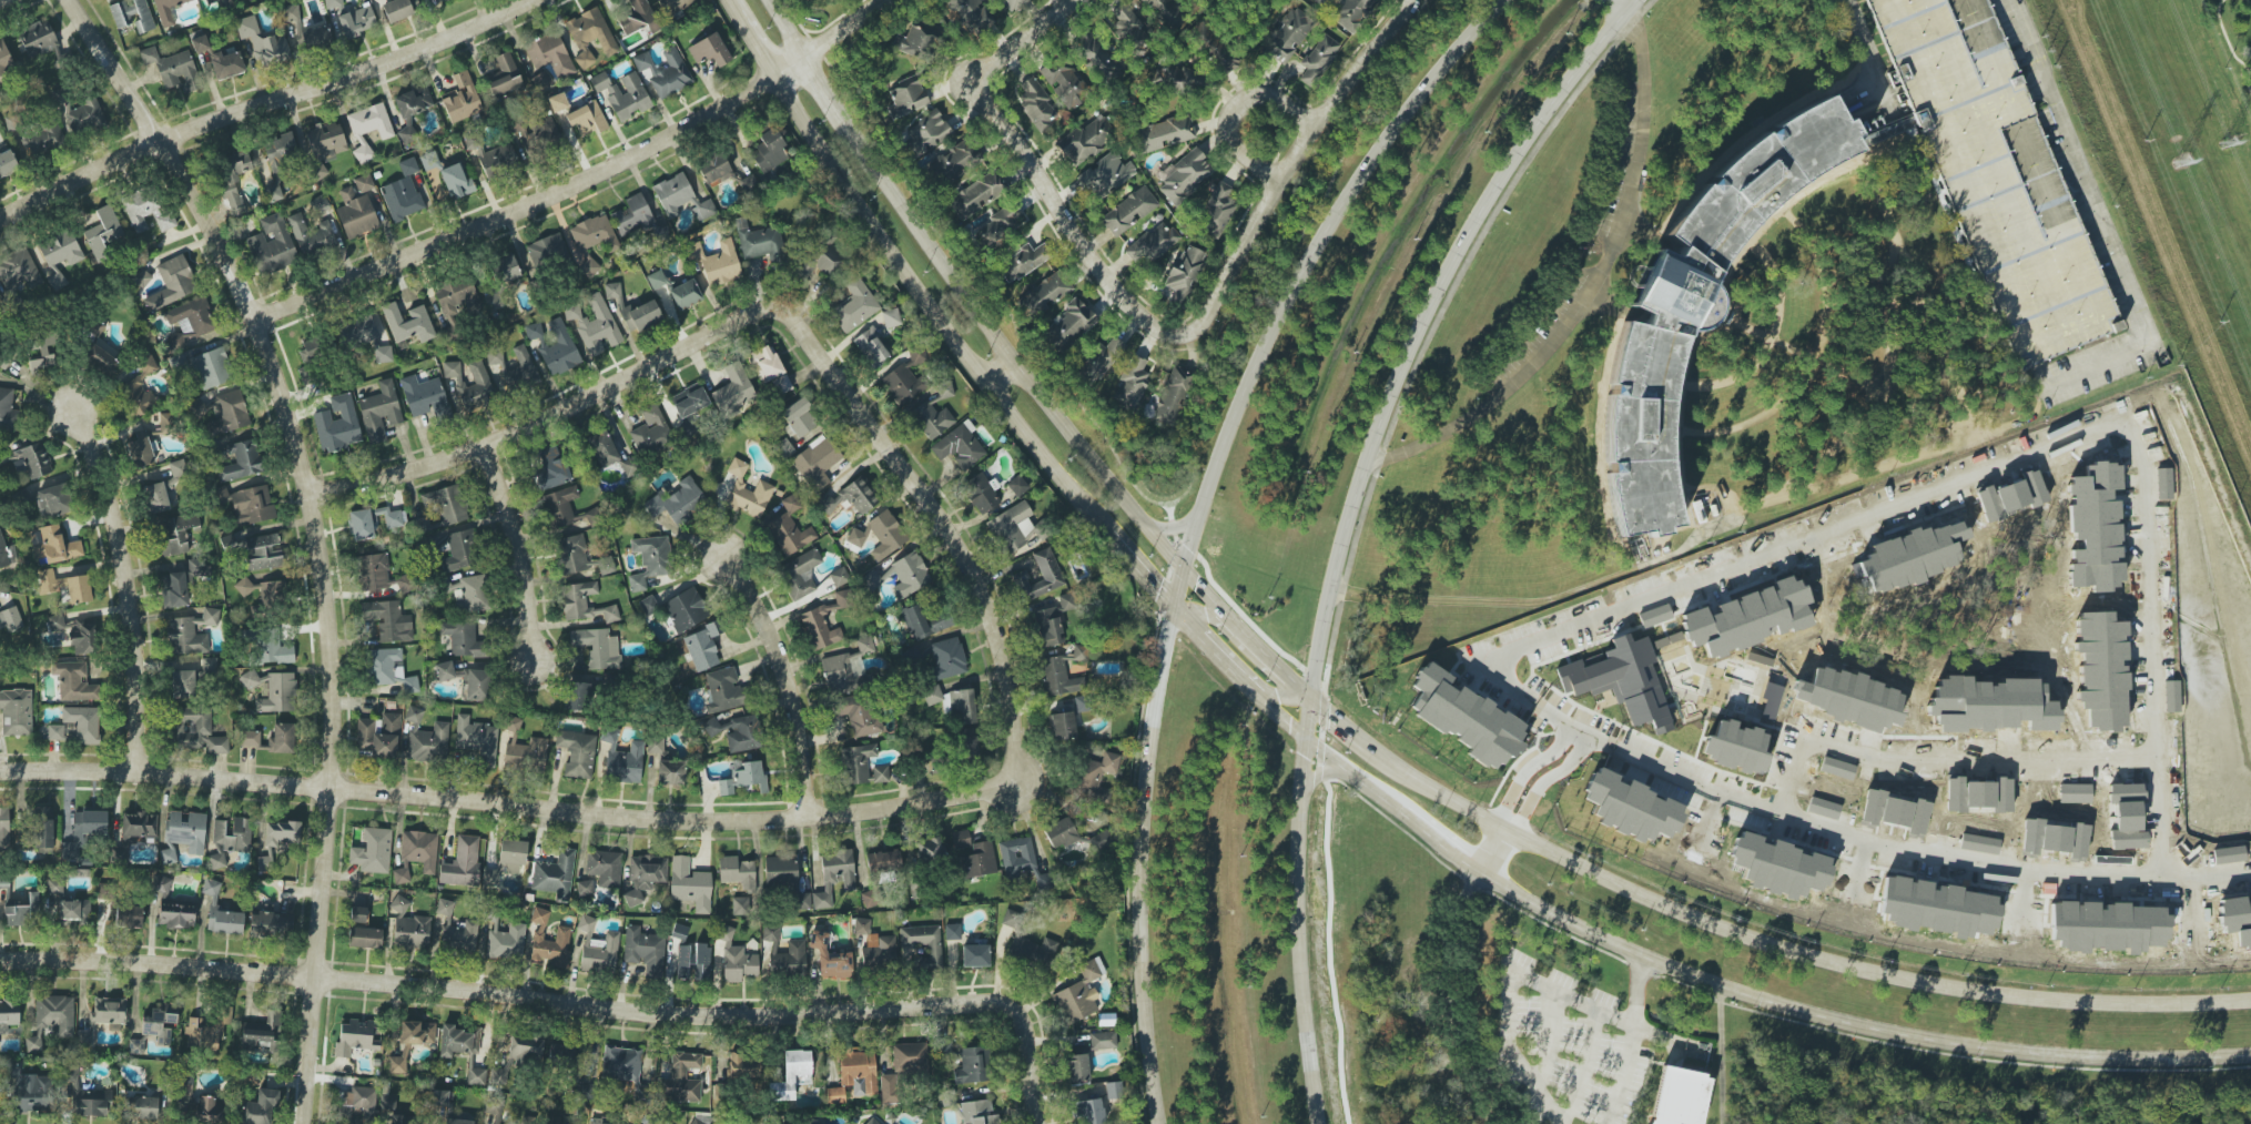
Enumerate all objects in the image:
road: (2, 0)
building: (211, 0)
building: (445, 0)
building: (1321, 2)
building: (333, 3)
building: (1012, 3)
road: (1612, 4)
building: (673, 6)
road: (729, 6)
building: (168, 10)
building: (396, 10)
building: (290, 12)
building: (1351, 12)
building: (132, 14)
building: (970, 14)
building: (639, 18)
building: (1165, 18)
building: (356, 21)
building: (1128, 29)
road: (783, 30)
building: (590, 36)
building: (1288, 36)
building: (314, 38)
building: (917, 38)
building: (37, 40)
building: (262, 42)
building: (200, 43)
road: (1028, 44)
road: (753, 45)
road: (1857, 48)
park: (2230, 49)
building: (709, 50)
building: (549, 54)
building: (149, 55)
building: (1095, 55)
building: (1318, 59)
building: (4, 60)
building: (226, 64)
building: (179, 70)
building: (665, 71)
building: (504, 77)
building: (540, 80)
building: (1064, 83)
road: (821, 87)
building: (622, 93)
building: (905, 98)
building: (460, 99)
building: (557, 102)
building: (1035, 102)
road: (264, 103)
road: (1231, 107)
road: (2051, 108)
building: (410, 110)
building: (79, 115)
building: (587, 119)
building: (368, 128)
building: (545, 131)
building: (1164, 133)
building: (926, 134)
building: (41, 138)
power tower: (2227, 140)
building: (1086, 141)
building: (324, 146)
building: (278, 151)
building: (769, 151)
power tower: (2183, 158)
building: (428, 160)
building: (957, 160)
building: (498, 161)
building: (7, 163)
building: (408, 166)
building: (713, 168)
road: (1297, 168)
building: (1996, 173)
parking garage: (1996, 173)
building: (1106, 175)
building: (1185, 175)
building: (232, 178)
road: (581, 180)
building: (456, 181)
building: (364, 183)
building: (273, 193)
building: (977, 194)
building: (681, 198)
building: (400, 199)
building: (146, 209)
building: (1218, 210)
building: (1128, 211)
building: (356, 214)
building: (632, 215)
road: (1076, 219)
building: (997, 229)
building: (103, 232)
building: (594, 233)
building: (311, 235)
building: (759, 241)
building: (1154, 242)
building: (272, 245)
building: (60, 250)
building: (546, 250)
building: (824, 259)
building: (718, 262)
building: (1021, 262)
building: (589, 267)
building: (19, 269)
building: (504, 271)
building: (1184, 274)
building: (140, 277)
building: (656, 280)
building: (173, 282)
road: (1586, 291)
building: (614, 293)
building: (685, 294)
building: (1042, 295)
building: (1699, 300)
building: (456, 304)
building: (491, 304)
building: (854, 306)
road: (933, 306)
building: (640, 315)
building: (891, 317)
building: (189, 321)
building: (408, 323)
road: (1413, 323)
road: (2132, 324)
building: (594, 325)
building: (1068, 325)
building: (533, 331)
building: (365, 337)
road: (1004, 346)
building: (42, 347)
building: (871, 347)
road: (1423, 347)
building: (99, 348)
building: (558, 348)
building: (311, 350)
building: (1098, 360)
building: (765, 363)
building: (146, 364)
building: (211, 368)
building: (523, 368)
road: (1001, 372)
building: (479, 382)
building: (1132, 382)
building: (902, 384)
building: (779, 385)
building: (944, 389)
building: (732, 391)
building: (1170, 395)
building: (424, 396)
building: (136, 397)
building: (689, 402)
building: (6, 408)
building: (379, 412)
building: (229, 415)
building: (800, 416)
building: (931, 419)
building: (337, 425)
building: (650, 429)
road: (516, 433)
building: (959, 446)
building: (601, 448)
building: (784, 448)
building: (140, 452)
building: (239, 460)
building: (815, 462)
building: (737, 467)
building: (551, 468)
road: (909, 474)
road: (1971, 482)
building: (1017, 485)
building: (980, 493)
building: (750, 497)
building: (849, 498)
building: (52, 502)
building: (677, 502)
building: (249, 504)
building: (445, 505)
building: (559, 506)
road: (1195, 519)
building: (361, 524)
building: (1012, 527)
road: (1172, 527)
building: (789, 528)
road: (316, 531)
building: (175, 533)
building: (885, 534)
building: (855, 537)
building: (53, 545)
road: (518, 549)
building: (458, 550)
building: (263, 553)
building: (7, 555)
building: (571, 555)
building: (649, 560)
road: (1136, 567)
building: (373, 571)
building: (1050, 573)
building: (800, 574)
building: (909, 575)
building: (839, 576)
building: (874, 579)
building: (405, 584)
road: (129, 585)
building: (65, 586)
building: (244, 586)
building: (175, 589)
road: (1201, 589)
building: (273, 593)
building: (468, 593)
building: (1068, 601)
building: (585, 602)
building: (647, 604)
road: (1544, 606)
building: (685, 609)
road: (1196, 609)
building: (1748, 618)
building: (10, 619)
building: (387, 620)
building: (55, 621)
building: (823, 621)
building: (924, 621)
road: (1185, 624)
building: (1047, 627)
building: (191, 632)
building: (462, 638)
road: (1248, 638)
building: (82, 639)
building: (702, 646)
building: (597, 648)
building: (272, 651)
building: (1078, 652)
building: (946, 659)
building: (209, 666)
building: (846, 668)
building: (389, 669)
road: (1230, 669)
building: (444, 670)
building: (1057, 677)
road: (787, 678)
building: (77, 681)
road: (1292, 681)
building: (1622, 681)
building: (183, 683)
building: (474, 683)
building: (272, 690)
building: (723, 690)
building: (932, 695)
building: (576, 696)
road: (1286, 699)
building: (1081, 705)
building: (962, 706)
building: (16, 712)
building: (859, 713)
road: (1306, 717)
building: (1466, 718)
road: (1282, 719)
building: (80, 725)
building: (1062, 726)
building: (54, 731)
building: (197, 731)
building: (734, 732)
building: (378, 737)
building: (249, 738)
building: (281, 739)
building: (426, 739)
building: (476, 740)
building: (966, 746)
building: (523, 749)
building: (577, 752)
road: (1562, 753)
building: (620, 760)
building: (665, 764)
building: (861, 766)
road: (1950, 767)
road: (1318, 773)
building: (750, 774)
building: (1096, 777)
building: (724, 787)
road: (538, 808)
building: (3, 827)
building: (42, 827)
building: (138, 827)
building: (83, 831)
building: (186, 831)
building: (281, 833)
building: (1059, 833)
building: (960, 839)
building: (230, 840)
building: (1101, 840)
road: (1493, 850)
building: (373, 851)
building: (925, 851)
building: (168, 853)
building: (416, 854)
road: (1938, 855)
building: (1015, 857)
building: (977, 860)
building: (506, 861)
building: (883, 861)
building: (462, 862)
building: (263, 863)
building: (604, 868)
building: (737, 872)
building: (555, 874)
building: (645, 875)
building: (785, 879)
building: (1042, 880)
building: (848, 883)
building: (689, 884)
building: (161, 885)
building: (54, 887)
building: (585, 888)
building: (396, 902)
building: (742, 905)
building: (444, 907)
building: (21, 910)
building: (74, 912)
building: (221, 912)
building: (358, 914)
building: (175, 915)
building: (126, 917)
building: (1011, 919)
building: (271, 925)
building: (861, 925)
road: (1298, 930)
building: (679, 931)
building: (952, 931)
building: (410, 932)
building: (770, 932)
building: (459, 935)
road: (1751, 936)
building: (364, 938)
building: (505, 941)
building: (548, 941)
building: (923, 944)
building: (597, 948)
building: (645, 950)
building: (1033, 952)
building: (879, 953)
building: (975, 954)
building: (734, 958)
building: (830, 958)
building: (790, 960)
building: (693, 961)
road: (1635, 988)
road: (508, 992)
road: (1743, 993)
building: (1078, 994)
road: (1593, 1003)
building: (109, 1011)
building: (8, 1014)
building: (51, 1020)
building: (160, 1023)
building: (207, 1029)
building: (261, 1032)
building: (417, 1032)
building: (356, 1036)
building: (83, 1037)
road: (1543, 1037)
building: (1102, 1040)
building: (458, 1041)
building: (135, 1046)
road: (1510, 1049)
building: (561, 1055)
building: (517, 1059)
building: (398, 1062)
building: (621, 1063)
building: (743, 1065)
building: (904, 1065)
building: (971, 1065)
road: (1032, 1065)
road: (1583, 1065)
building: (1076, 1067)
building: (858, 1071)
road: (1621, 1074)
building: (792, 1075)
building: (476, 1076)
building: (681, 1079)
building: (185, 1085)
building: (1114, 1090)
building: (584, 1091)
building: (641, 1092)
building: (32, 1093)
building: (834, 1095)
building: (439, 1097)
building: (1680, 1097)
building: (85, 1098)
building: (388, 1102)
building: (361, 1104)
building: (140, 1107)
building: (260, 1107)
building: (493, 1110)
building: (209, 1112)
building: (979, 1112)
building: (1089, 1112)
building: (403, 1120)
building: (526, 1120)
building: (555, 1120)
building: (457, 1121)
building: (699, 1121)
building: (873, 1121)
building: (576, 1122)
building: (602, 1122)

